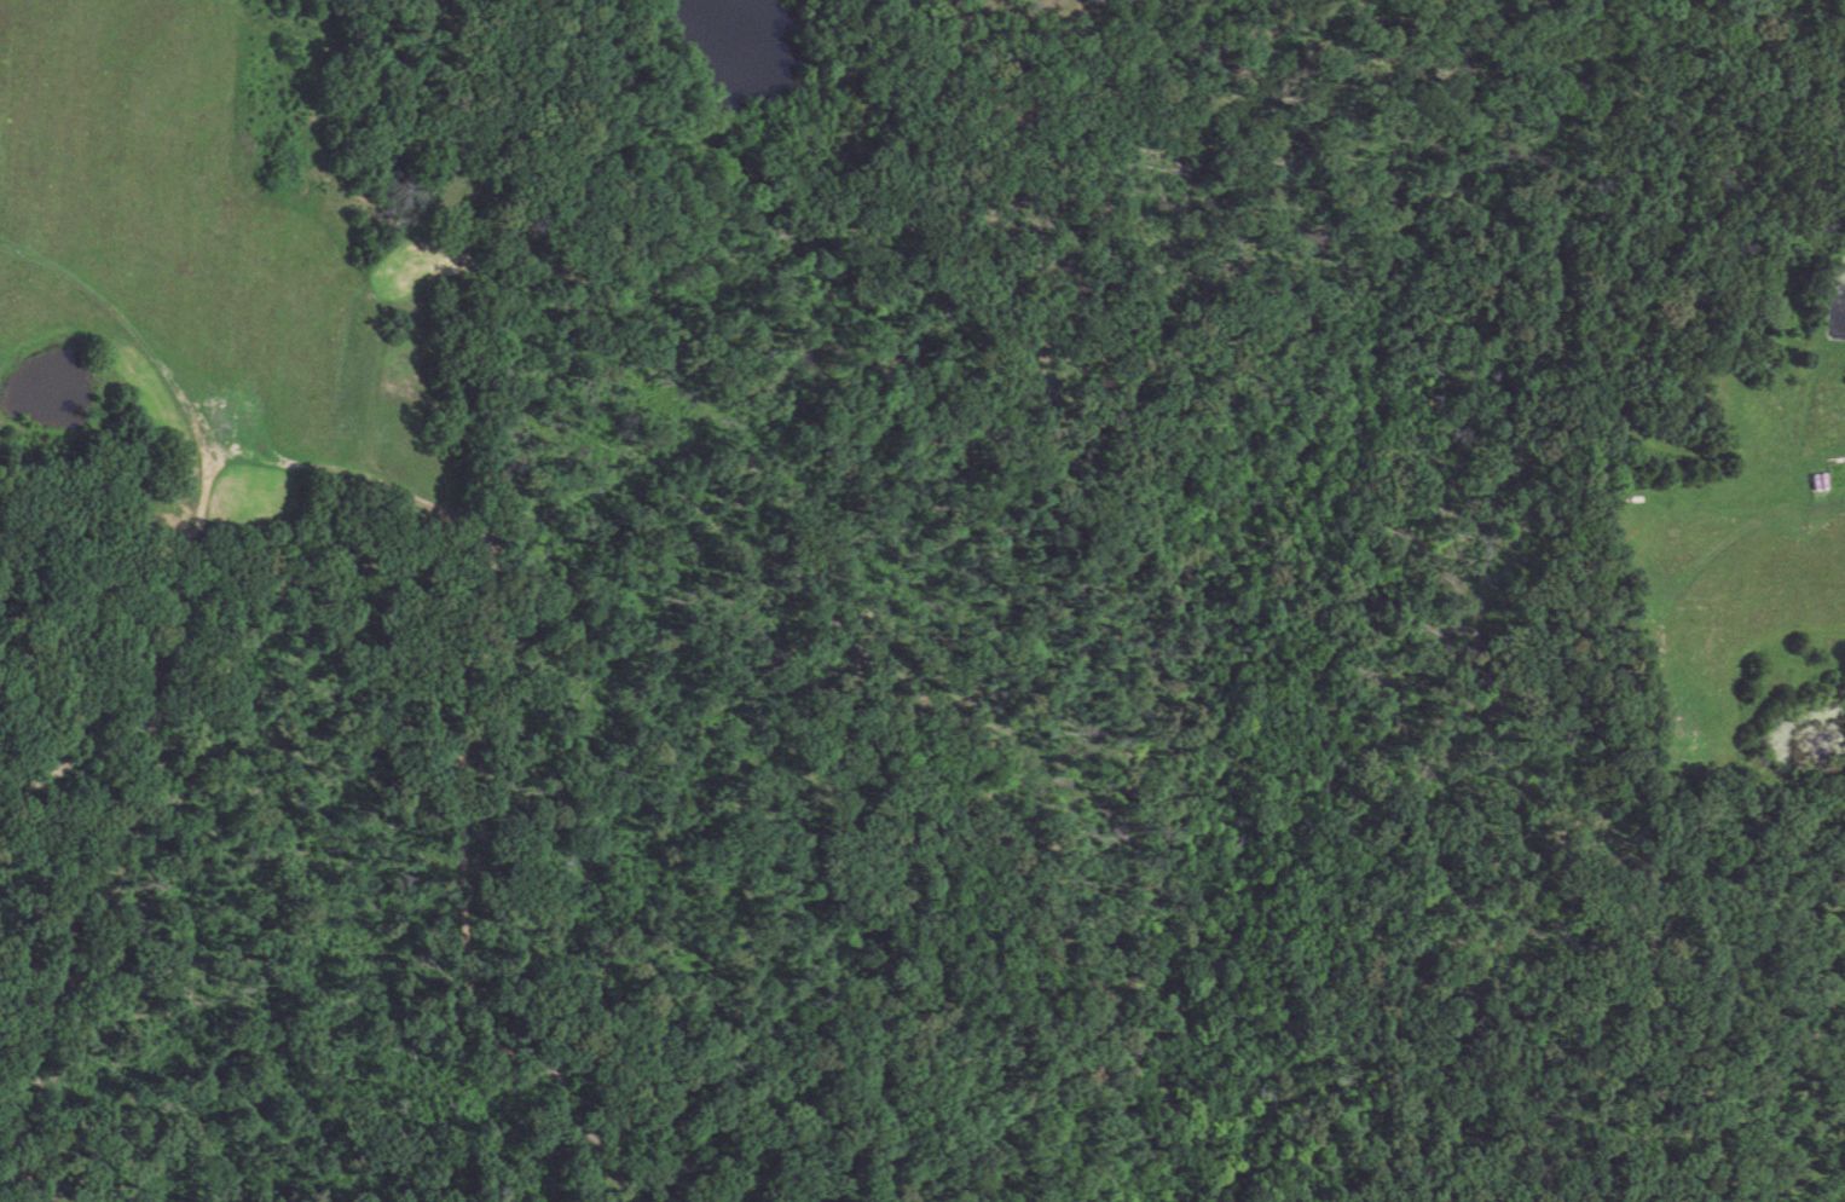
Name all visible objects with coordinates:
building: (1835, 469)

